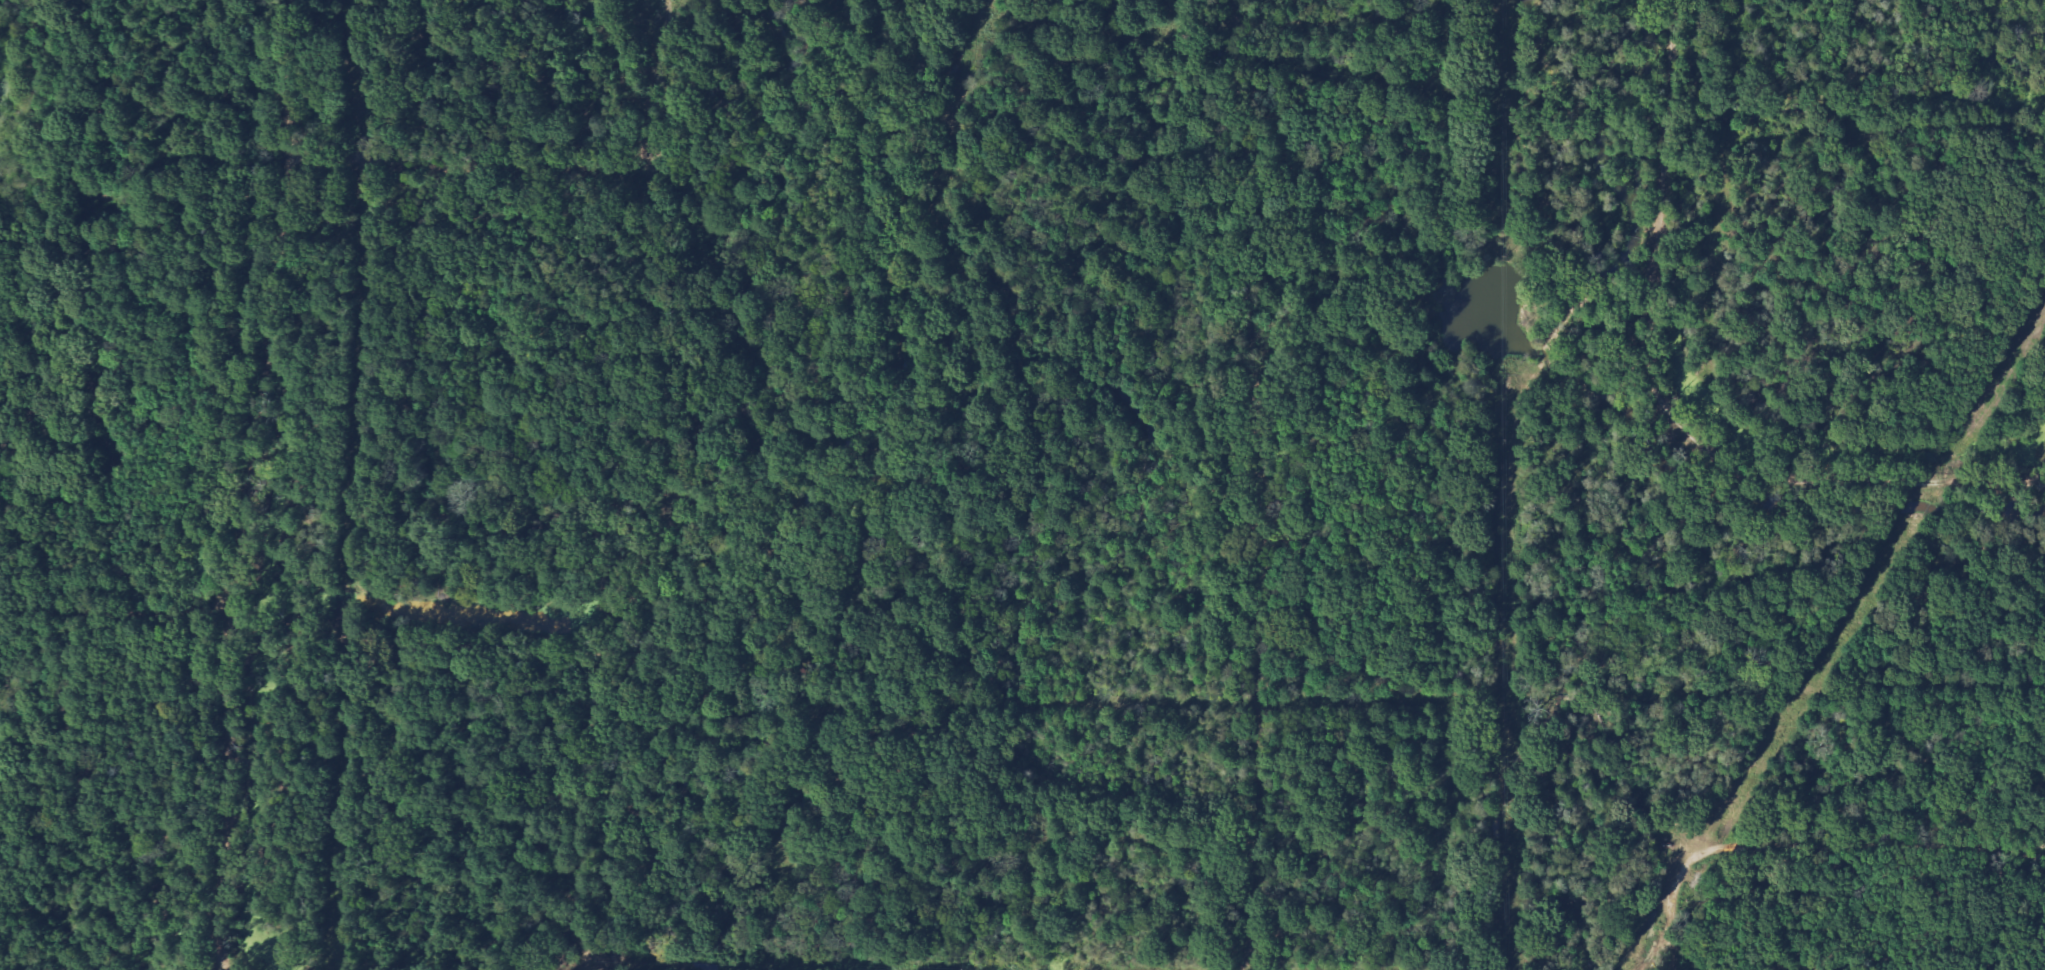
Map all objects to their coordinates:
road: (463, 163)
road: (1665, 405)
road: (1259, 484)
road: (248, 486)
road: (666, 490)
road: (537, 530)
road: (113, 617)
road: (472, 659)
road: (979, 704)
road: (85, 734)
road: (1014, 841)
road: (1812, 850)
road: (220, 969)

